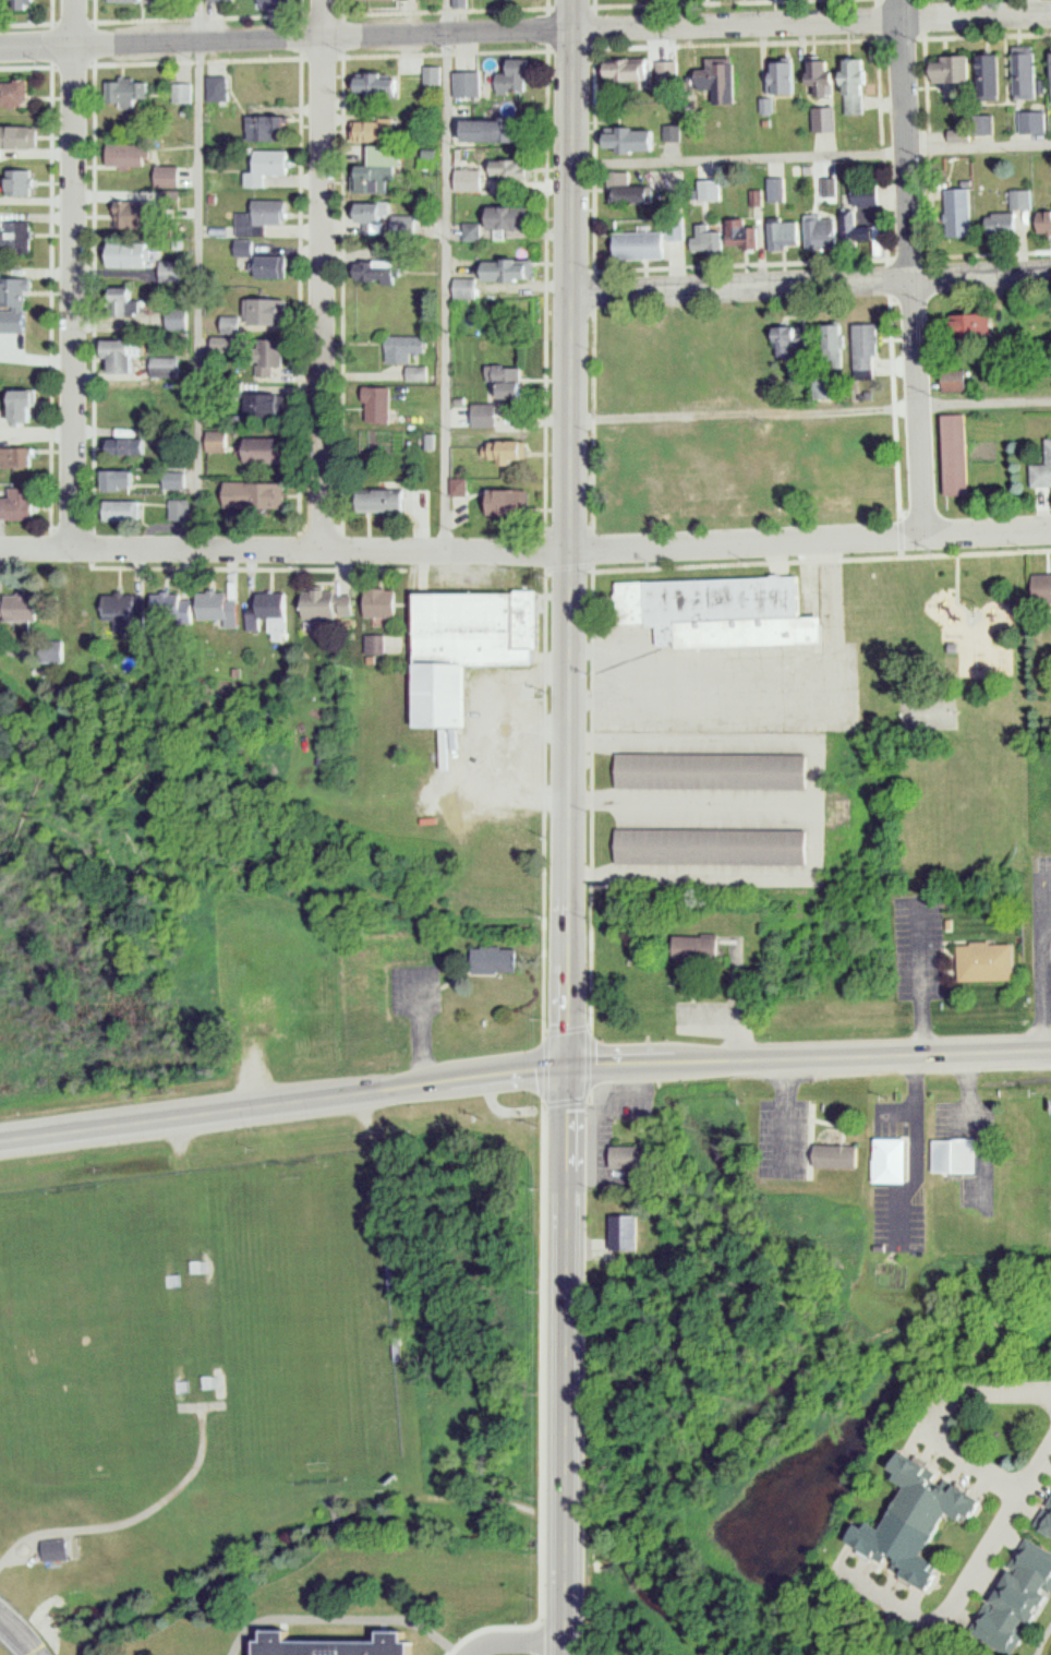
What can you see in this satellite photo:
building: (131, 1)
building: (322, 1)
building: (280, 2)
building: (27, 3)
building: (462, 3)
road: (811, 24)
road: (286, 37)
building: (943, 69)
building: (641, 70)
building: (1019, 72)
building: (432, 75)
building: (983, 75)
building: (1048, 75)
building: (813, 76)
building: (709, 79)
building: (775, 81)
building: (515, 82)
building: (471, 84)
building: (383, 85)
building: (850, 86)
building: (220, 88)
building: (185, 92)
building: (135, 93)
building: (16, 94)
building: (819, 119)
building: (1027, 121)
building: (268, 127)
building: (491, 130)
building: (377, 131)
building: (639, 136)
building: (20, 140)
building: (134, 155)
road: (810, 155)
building: (269, 166)
building: (515, 169)
building: (380, 171)
building: (171, 176)
building: (473, 180)
building: (21, 183)
building: (1015, 199)
building: (954, 212)
building: (146, 215)
building: (264, 216)
building: (373, 217)
building: (515, 218)
building: (844, 224)
building: (996, 224)
building: (672, 230)
building: (777, 231)
building: (814, 231)
building: (16, 236)
building: (736, 236)
building: (701, 238)
building: (638, 244)
building: (247, 247)
building: (135, 253)
building: (276, 265)
road: (914, 266)
building: (511, 269)
building: (388, 271)
road: (72, 275)
road: (198, 275)
road: (322, 275)
road: (446, 276)
road: (810, 284)
building: (469, 287)
building: (19, 292)
building: (133, 302)
building: (271, 311)
building: (182, 319)
building: (233, 324)
building: (962, 324)
building: (825, 346)
building: (859, 346)
building: (408, 347)
building: (126, 355)
building: (271, 356)
building: (168, 367)
building: (950, 381)
building: (515, 382)
building: (27, 406)
building: (268, 406)
building: (382, 406)
road: (810, 411)
building: (490, 415)
building: (220, 441)
building: (142, 446)
building: (267, 451)
building: (509, 451)
building: (949, 454)
building: (19, 459)
building: (1040, 467)
building: (708, 476)
building: (125, 480)
building: (178, 480)
building: (462, 487)
building: (259, 494)
building: (388, 500)
building: (511, 502)
building: (21, 504)
building: (126, 511)
road: (37, 550)
road: (563, 552)
building: (1038, 587)
building: (385, 602)
building: (220, 603)
building: (331, 603)
building: (176, 605)
building: (275, 605)
building: (721, 608)
building: (470, 640)
building: (382, 645)
road: (609, 647)
road: (783, 696)
park: (941, 709)
park: (922, 710)
road: (530, 721)
road: (485, 734)
road: (721, 742)
building: (710, 767)
road: (570, 827)
road: (814, 836)
building: (712, 842)
railway: (492, 910)
building: (689, 948)
building: (486, 959)
building: (987, 959)
road: (1040, 962)
road: (916, 981)
road: (732, 1018)
road: (523, 1072)
road: (783, 1116)
road: (978, 1125)
road: (916, 1150)
building: (953, 1151)
building: (836, 1152)
building: (620, 1155)
building: (890, 1156)
building: (619, 1231)
park: (307, 1317)
park: (81, 1341)
road: (980, 1391)
road: (1038, 1468)
building: (906, 1518)
road: (132, 1520)
building: (1044, 1520)
building: (60, 1549)
road: (983, 1560)
building: (1012, 1597)
road: (340, 1615)
road: (19, 1635)
road: (514, 1636)
building: (328, 1643)

